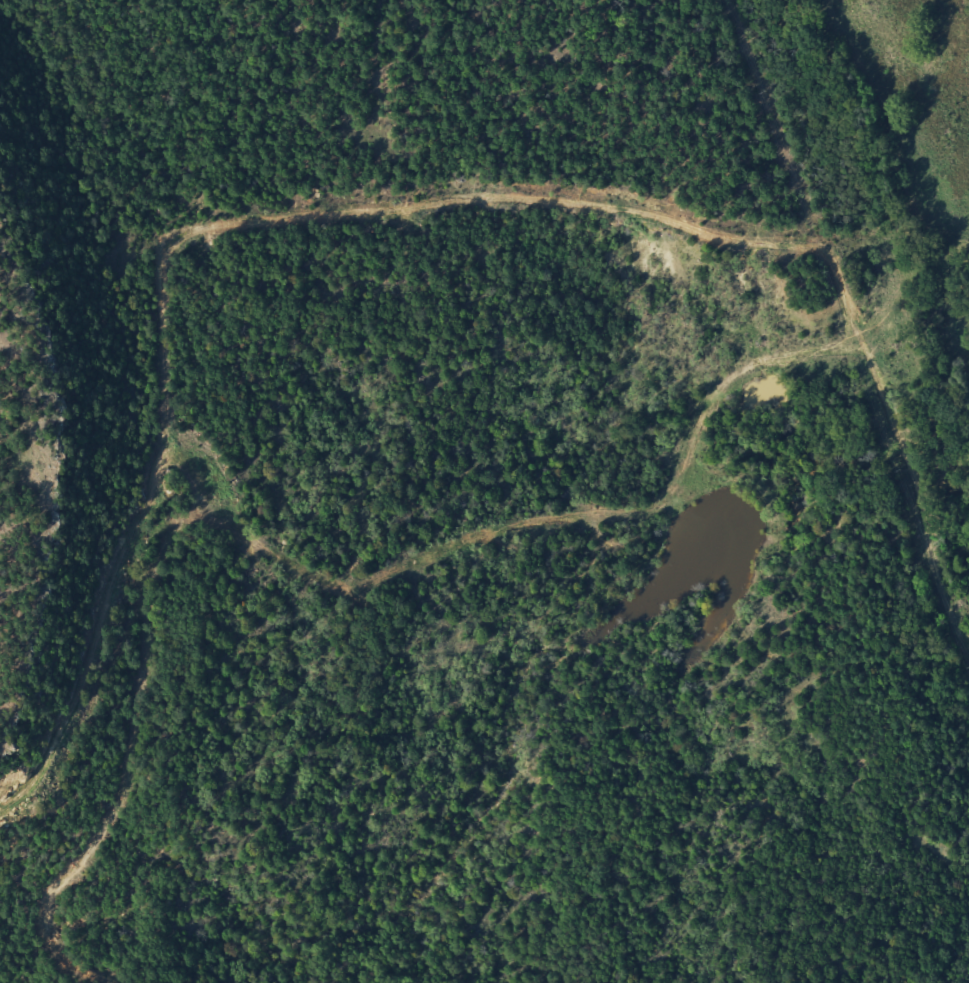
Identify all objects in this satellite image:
road: (853, 282)

